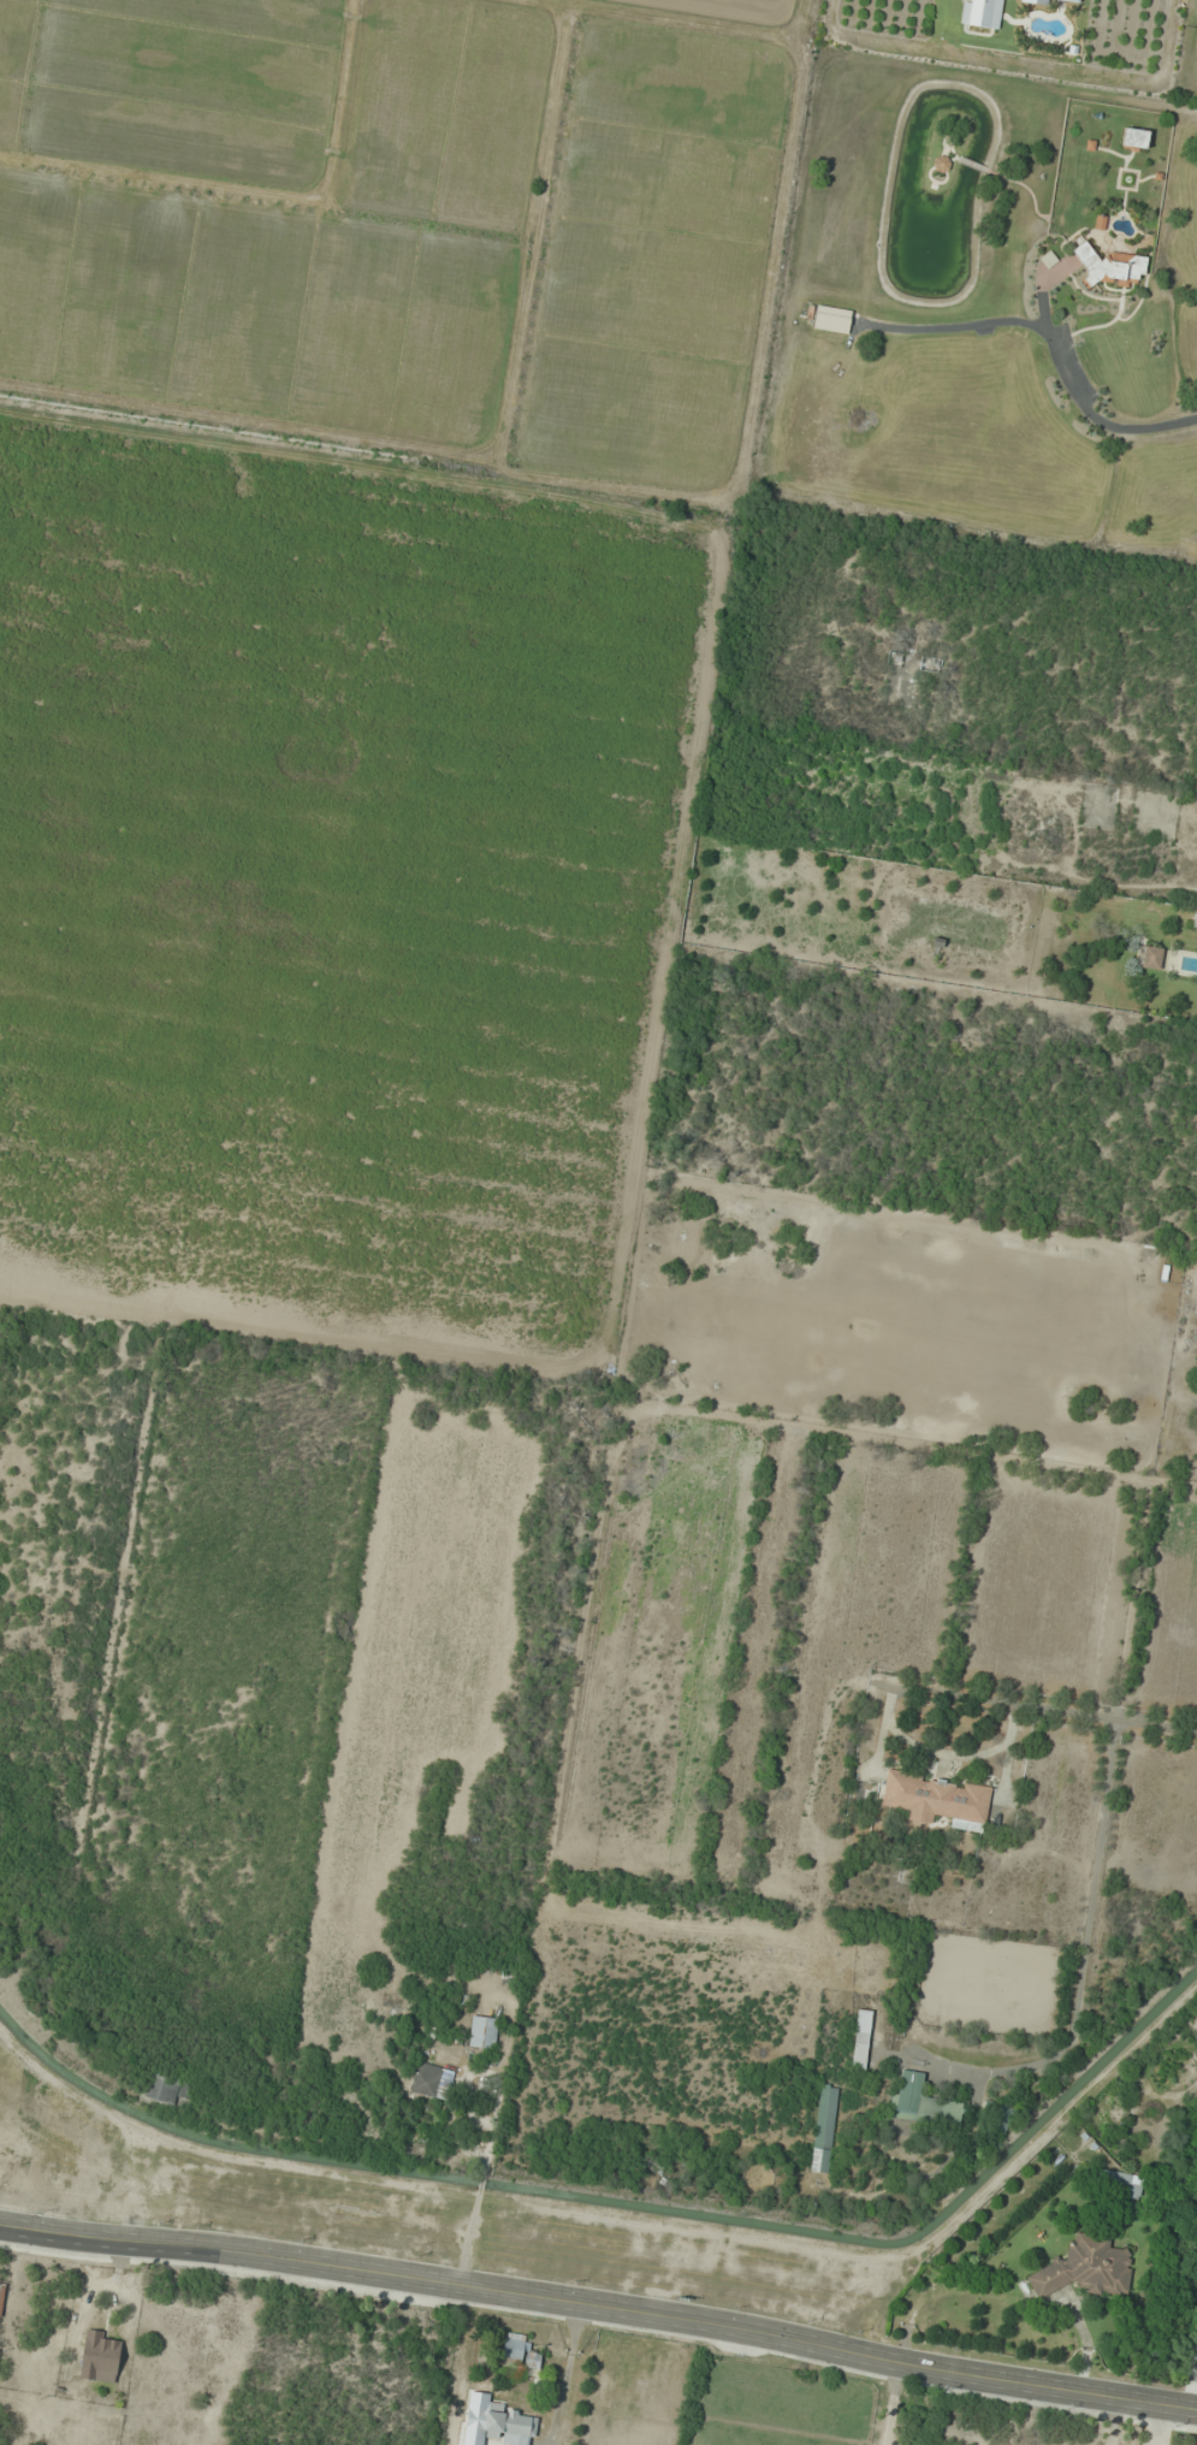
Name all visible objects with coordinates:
building: (982, 12)
building: (1134, 138)
building: (940, 164)
building: (1110, 267)
building: (831, 319)
building: (930, 664)
building: (1151, 957)
building: (937, 1799)
building: (482, 2031)
building: (860, 2038)
building: (431, 2080)
building: (167, 2088)
building: (922, 2103)
building: (1005, 2114)
building: (823, 2129)
building: (1108, 2154)
building: (1121, 2188)
building: (1085, 2268)
road: (599, 2304)
building: (520, 2350)
building: (99, 2357)
building: (508, 2425)

